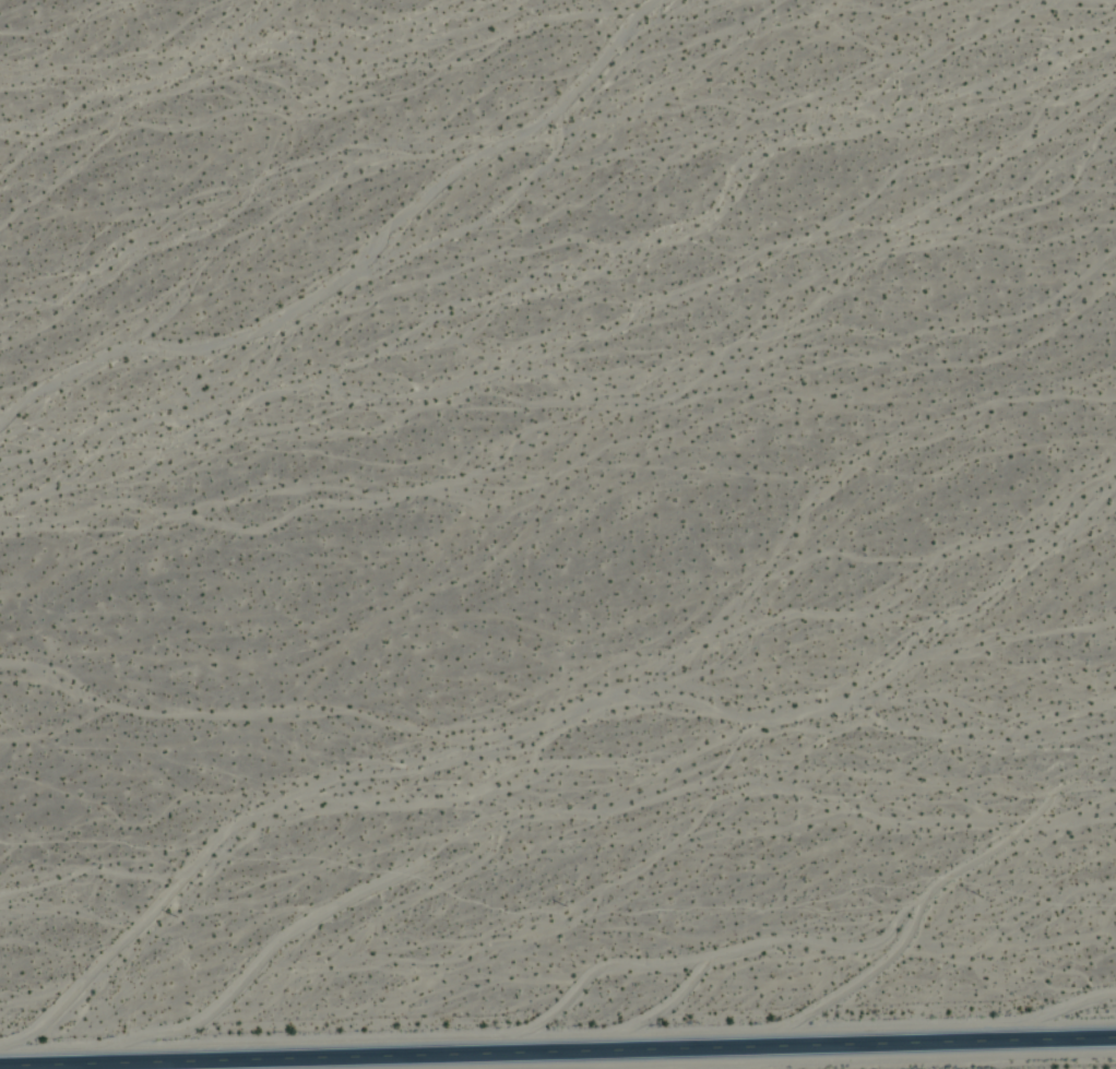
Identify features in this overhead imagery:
road: (558, 1053)

